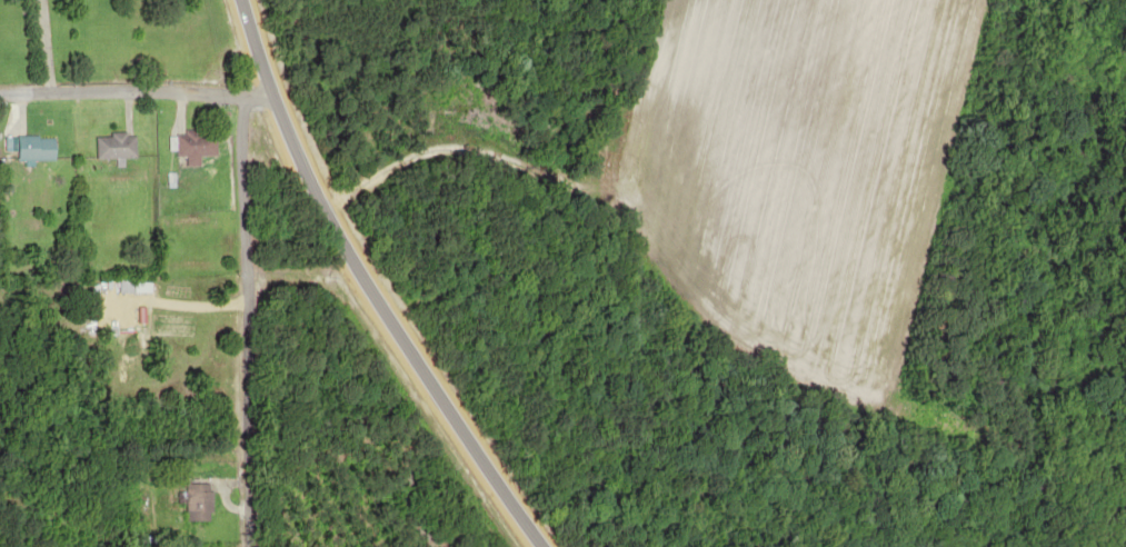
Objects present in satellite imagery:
road: (131, 90)
building: (112, 145)
building: (191, 145)
building: (31, 147)
road: (390, 279)
building: (86, 297)
road: (235, 319)
building: (196, 501)

